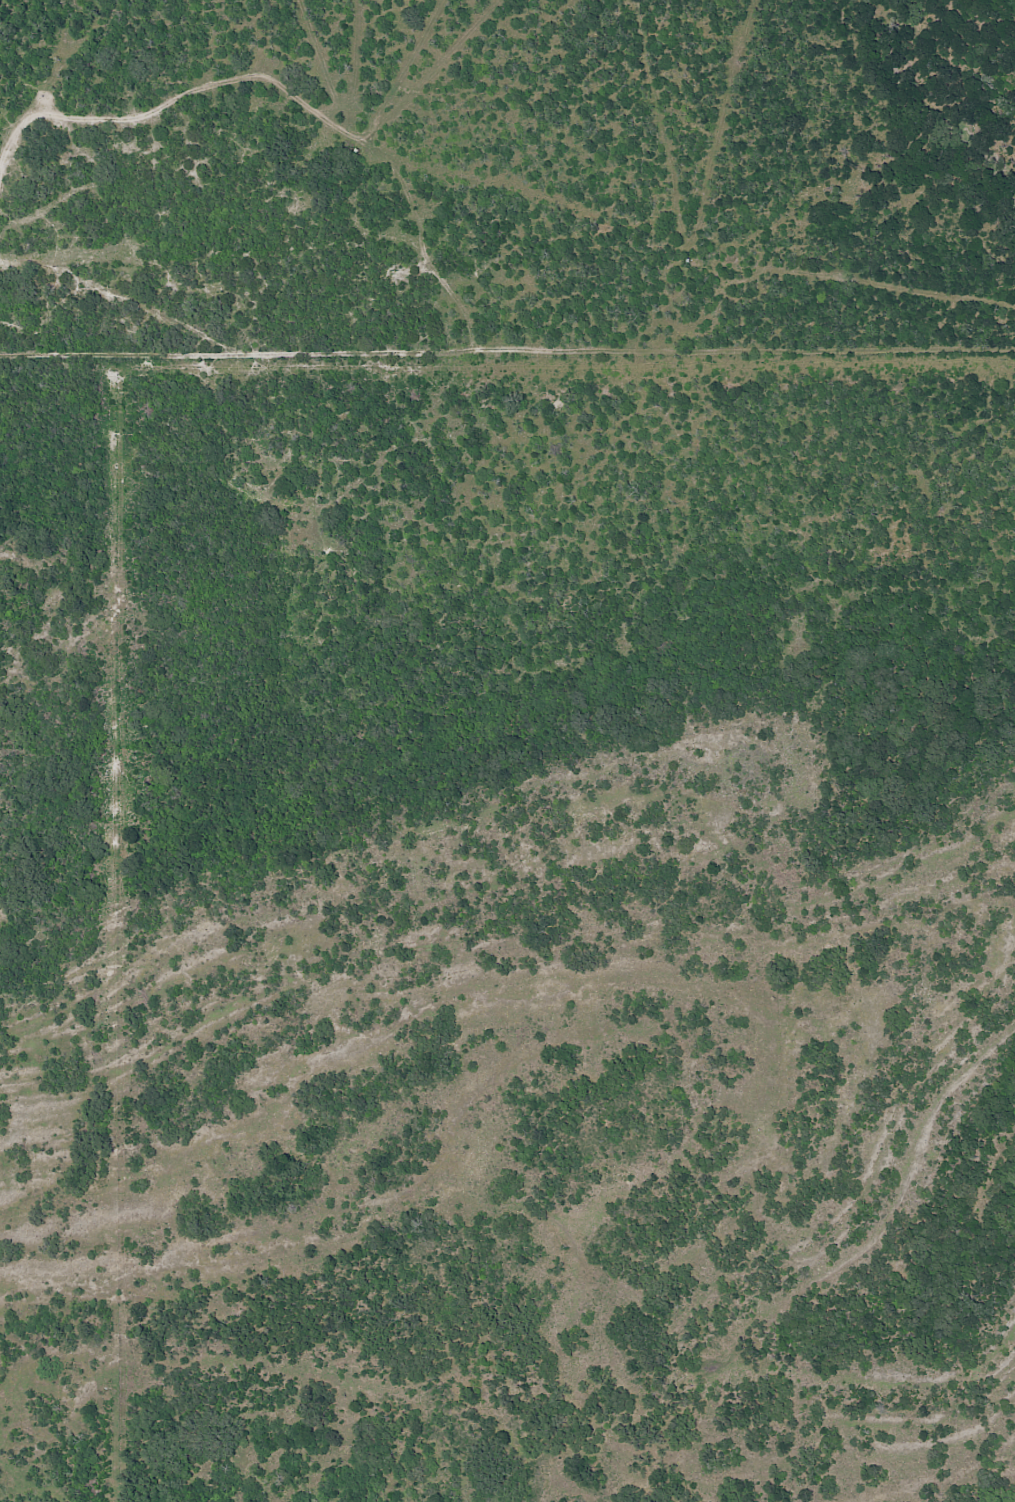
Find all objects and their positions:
road: (514, 1100)
road: (842, 1284)

